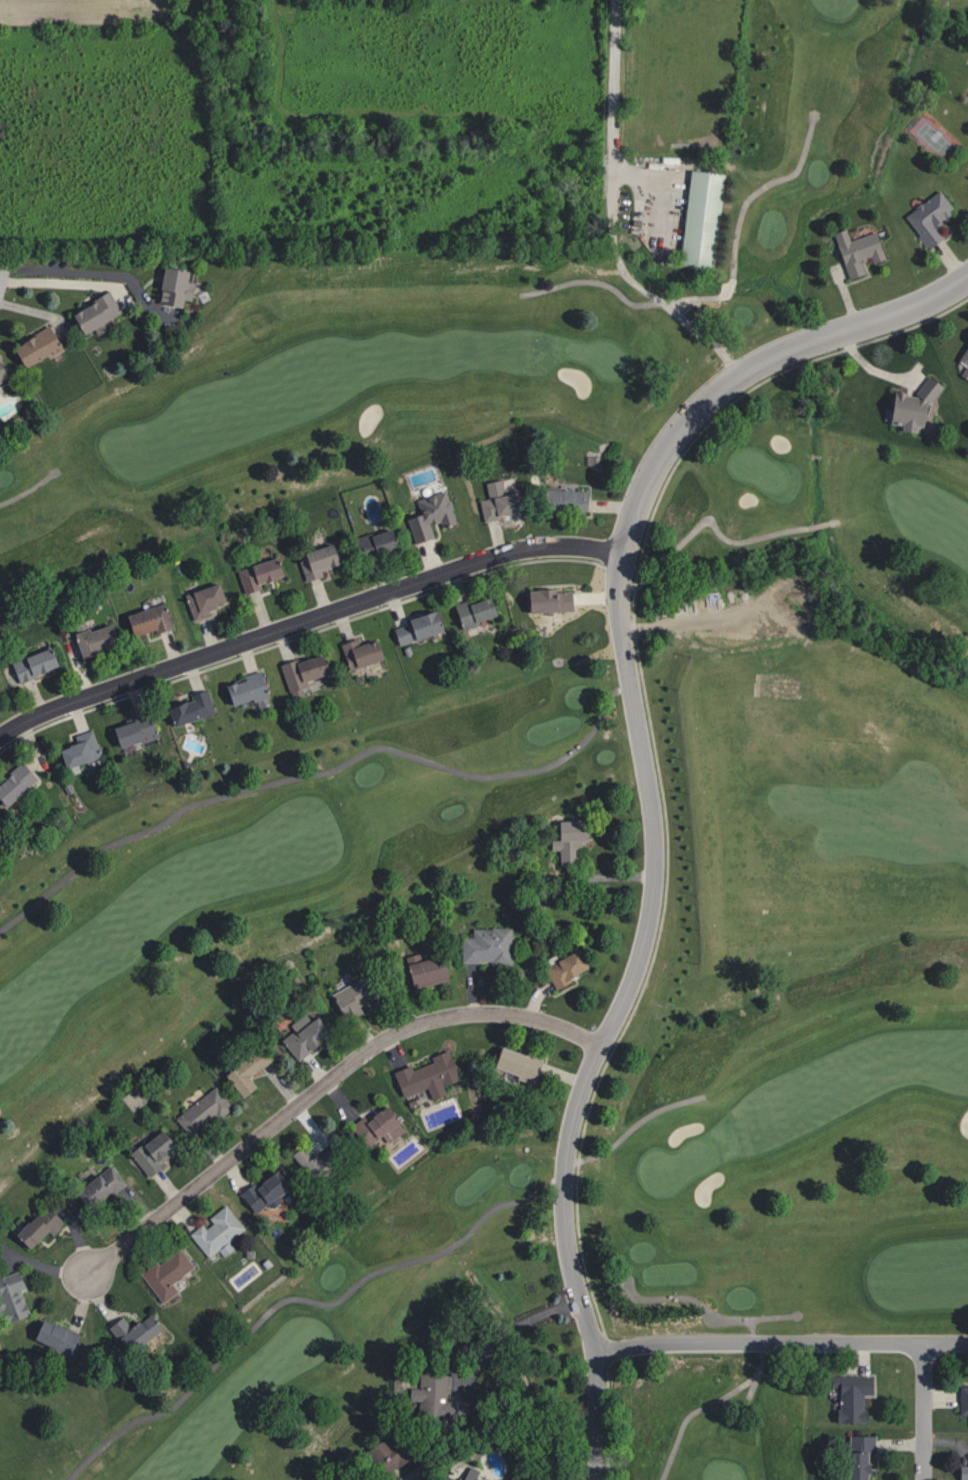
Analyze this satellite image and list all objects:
road: (614, 88)
building: (967, 175)
building: (967, 176)
road: (659, 185)
building: (927, 218)
building: (704, 220)
building: (856, 250)
road: (0, 267)
road: (93, 271)
building: (170, 284)
road: (721, 294)
building: (91, 312)
building: (33, 346)
building: (963, 355)
building: (2, 377)
building: (911, 403)
road: (28, 489)
building: (568, 498)
building: (503, 506)
building: (431, 515)
road: (717, 529)
building: (379, 543)
building: (320, 559)
building: (262, 572)
building: (208, 600)
building: (553, 601)
building: (478, 610)
building: (152, 620)
road: (306, 620)
building: (421, 629)
building: (99, 640)
building: (362, 653)
building: (37, 664)
building: (306, 669)
building: (249, 689)
building: (191, 708)
building: (136, 730)
building: (82, 752)
road: (486, 775)
building: (17, 785)
road: (647, 790)
building: (0, 819)
road: (151, 828)
park: (509, 833)
building: (566, 840)
building: (485, 945)
building: (562, 967)
building: (421, 968)
building: (349, 997)
building: (302, 1036)
building: (513, 1065)
building: (246, 1068)
building: (424, 1075)
road: (322, 1085)
building: (203, 1111)
building: (374, 1127)
building: (150, 1151)
building: (314, 1158)
building: (98, 1185)
building: (262, 1189)
road: (523, 1199)
building: (33, 1227)
building: (214, 1230)
building: (164, 1272)
building: (11, 1297)
road: (691, 1302)
road: (773, 1319)
building: (132, 1331)
building: (51, 1336)
road: (781, 1342)
road: (490, 1349)
road: (752, 1386)
building: (846, 1397)
building: (962, 1401)
building: (434, 1402)
road: (700, 1407)
road: (924, 1411)
building: (856, 1456)
building: (386, 1461)
building: (961, 1472)
building: (468, 1473)
building: (448, 1478)

